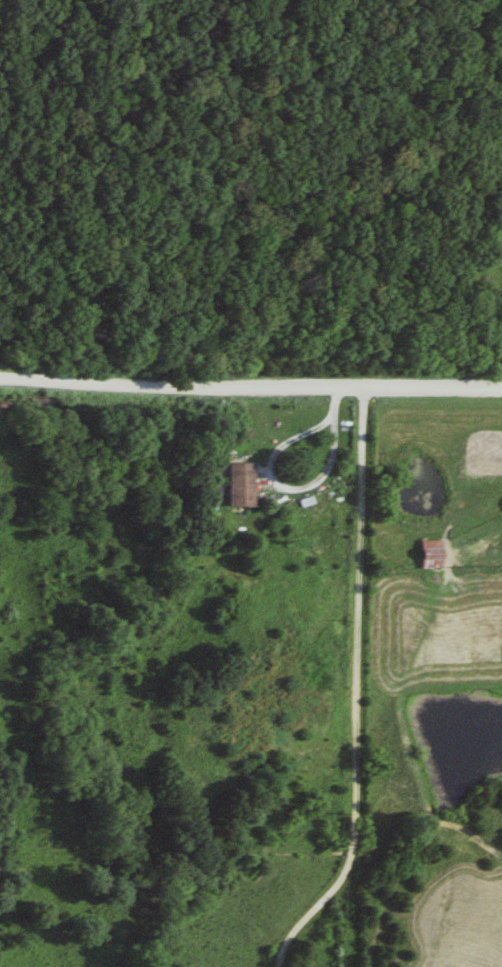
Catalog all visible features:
road: (251, 382)
building: (233, 484)
road: (298, 491)
building: (427, 554)
road: (352, 689)

